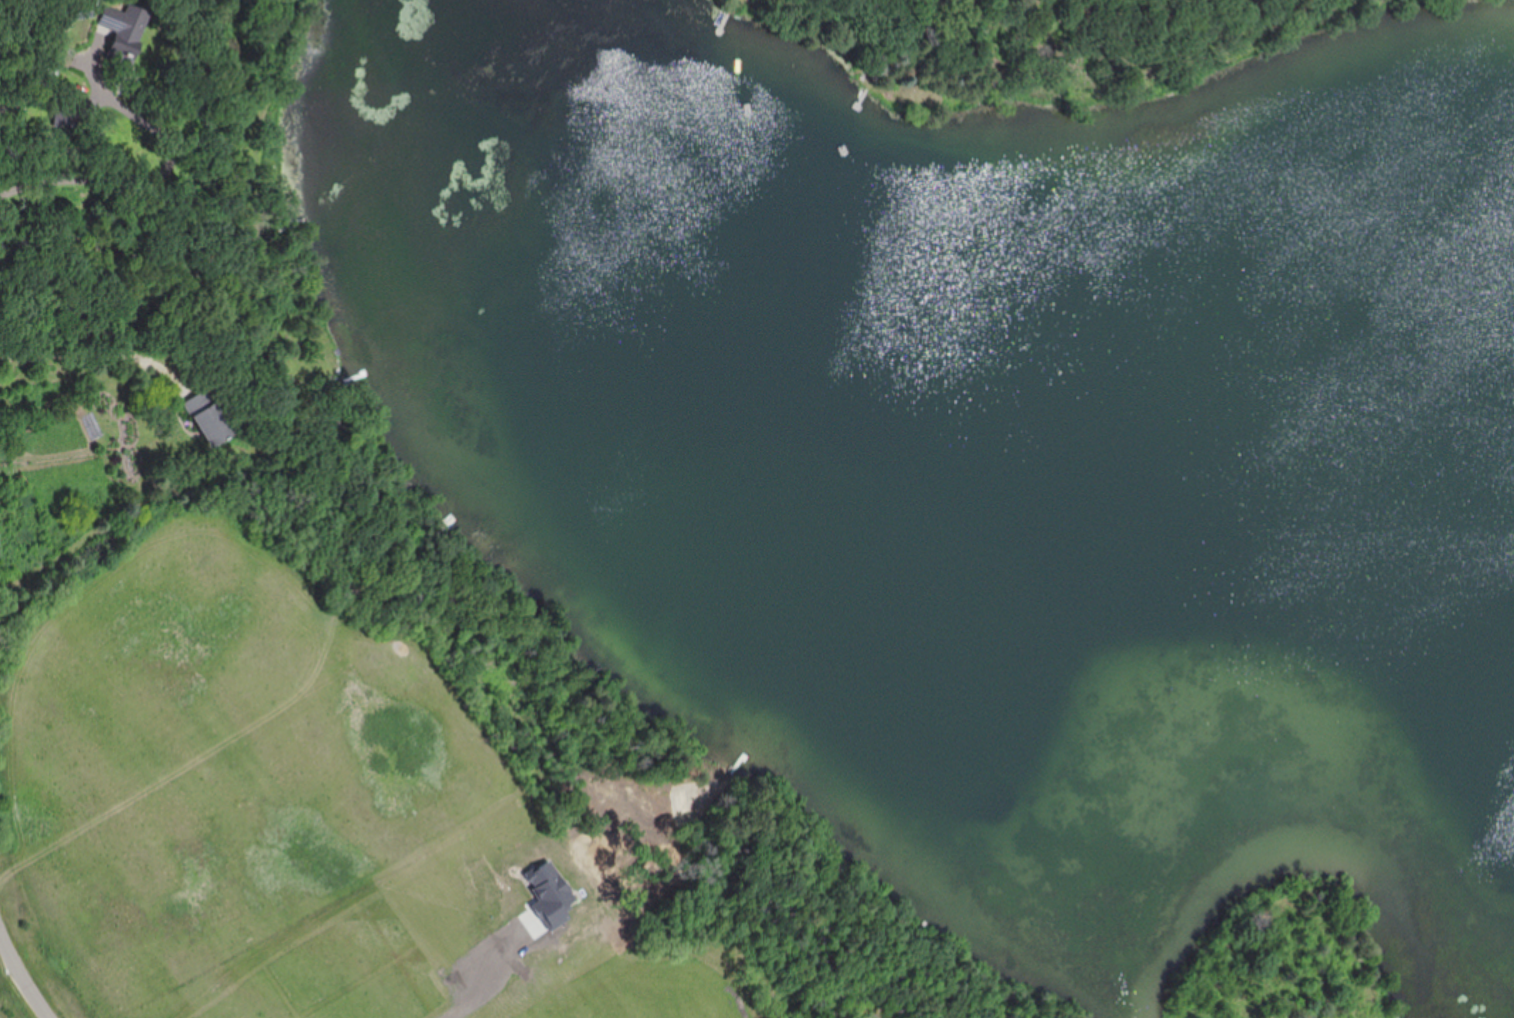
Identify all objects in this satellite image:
building: (124, 35)
road: (130, 179)
road: (85, 353)
building: (208, 417)
road: (22, 973)
road: (478, 973)

